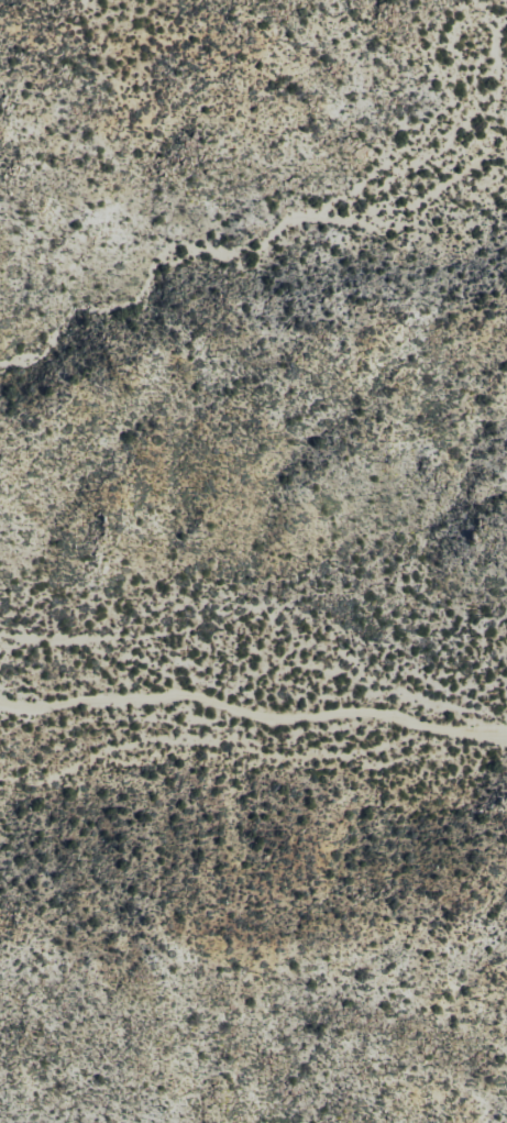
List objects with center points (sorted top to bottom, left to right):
road: (252, 713)

